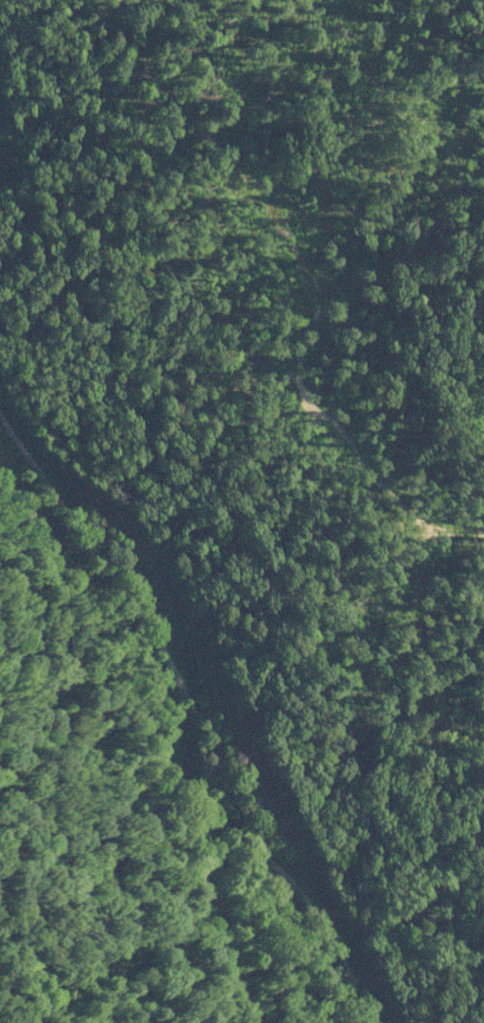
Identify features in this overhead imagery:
road: (193, 718)

